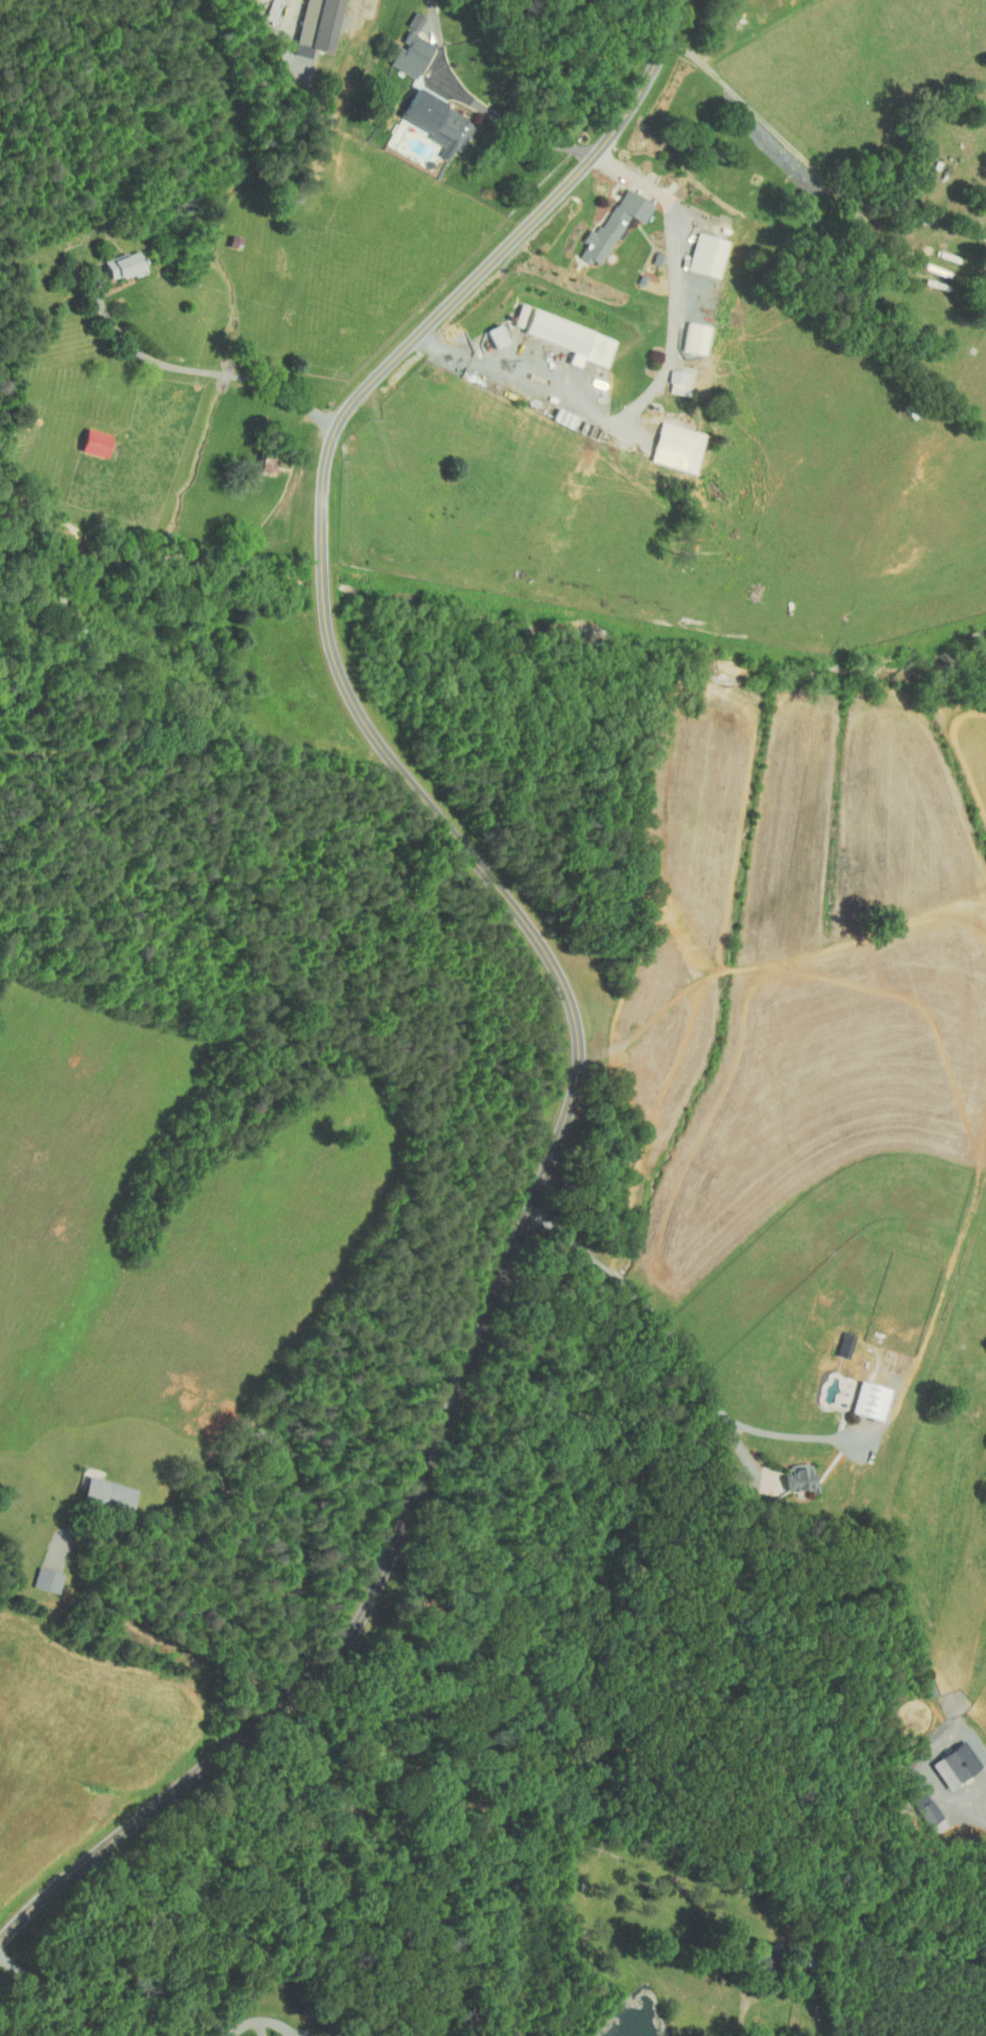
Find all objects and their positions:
building: (406, 15)
road: (295, 16)
building: (309, 22)
building: (402, 50)
road: (649, 87)
road: (483, 107)
building: (428, 117)
road: (812, 164)
building: (604, 220)
building: (983, 226)
building: (698, 249)
building: (649, 253)
building: (115, 259)
building: (514, 310)
building: (488, 330)
building: (563, 332)
building: (686, 332)
road: (211, 372)
building: (670, 376)
building: (86, 437)
building: (667, 442)
road: (580, 1070)
road: (573, 1239)
road: (620, 1280)
road: (691, 1364)
building: (830, 1385)
building: (862, 1395)
road: (805, 1437)
road: (284, 1446)
building: (792, 1472)
building: (99, 1489)
building: (38, 1575)
building: (947, 1760)
road: (978, 1807)
building: (919, 1808)
road: (48, 1998)
road: (742, 2016)
road: (249, 2024)

